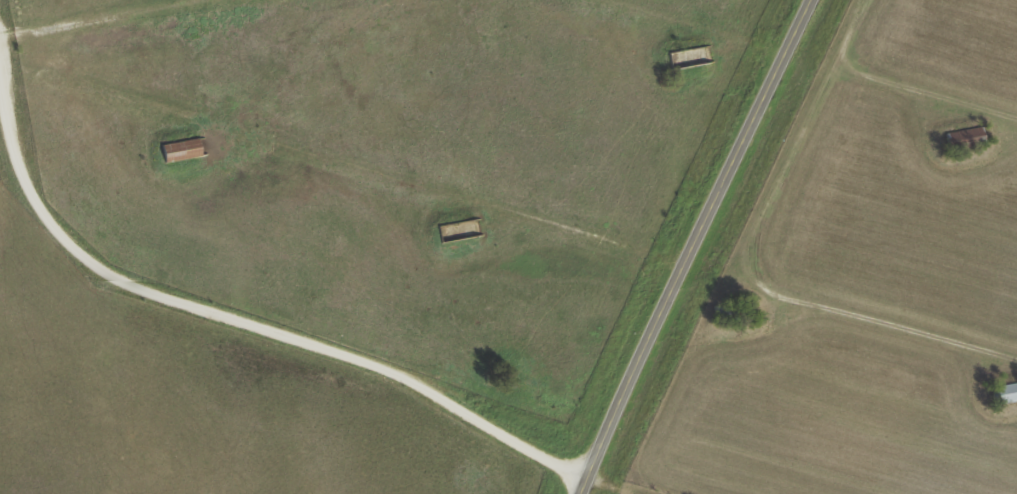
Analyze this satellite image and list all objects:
road: (87, 14)
building: (683, 57)
road: (932, 91)
building: (965, 137)
building: (180, 149)
road: (693, 246)
road: (758, 260)
building: (733, 311)
road: (244, 323)
building: (1004, 392)

